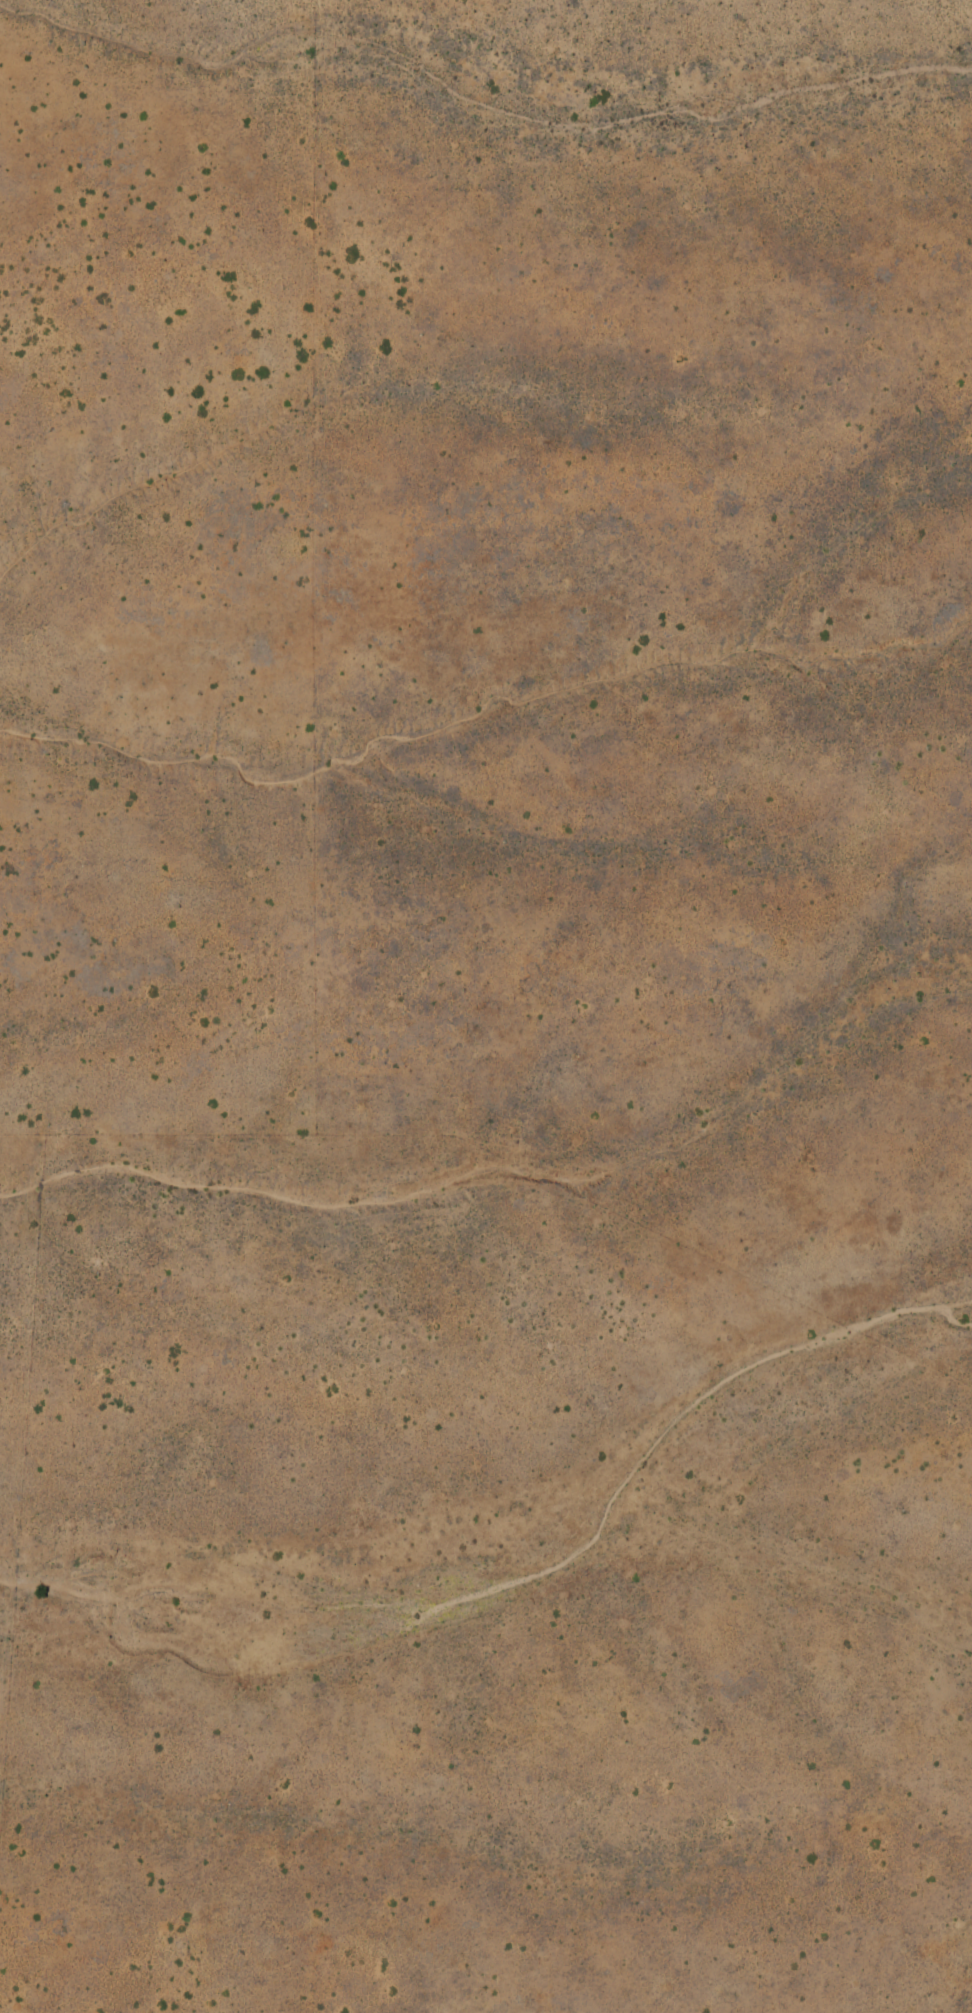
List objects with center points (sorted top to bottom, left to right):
road: (118, 1977)
road: (949, 2006)

